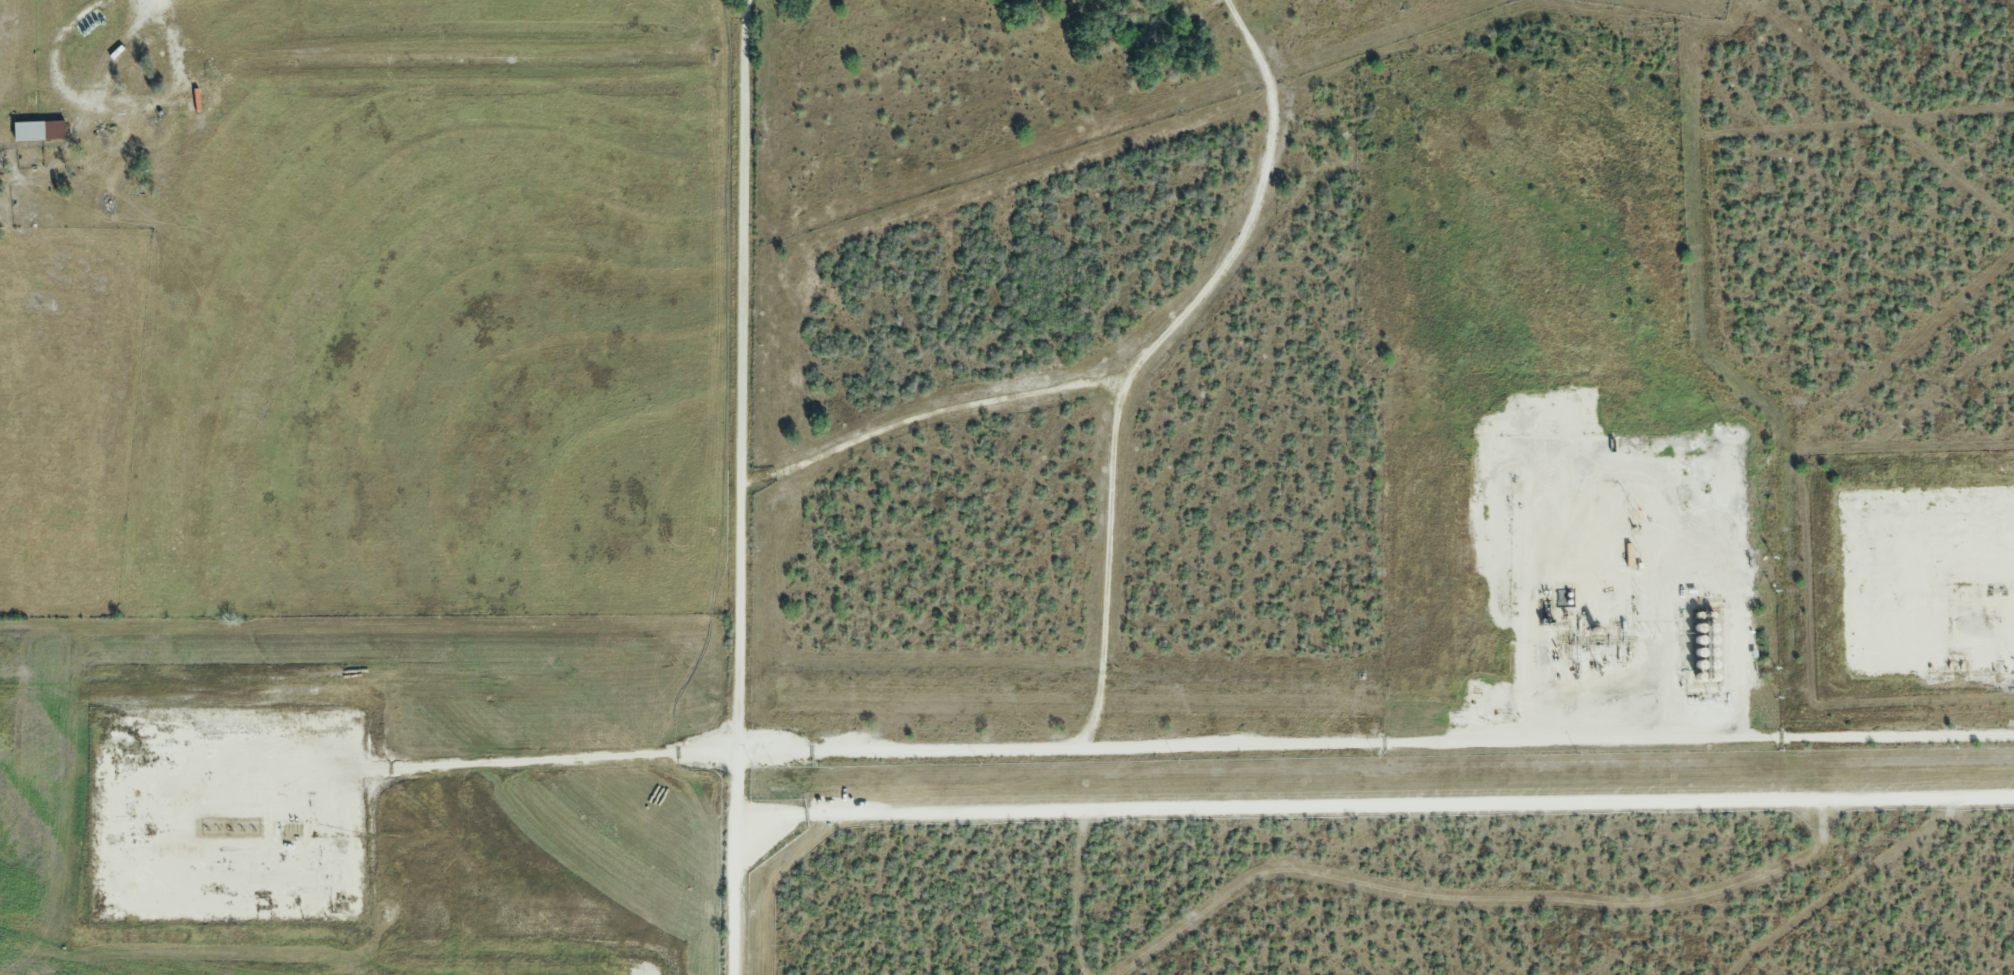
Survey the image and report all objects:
building: (35, 129)
road: (1149, 352)
road: (930, 418)
road: (747, 487)
road: (1129, 743)

